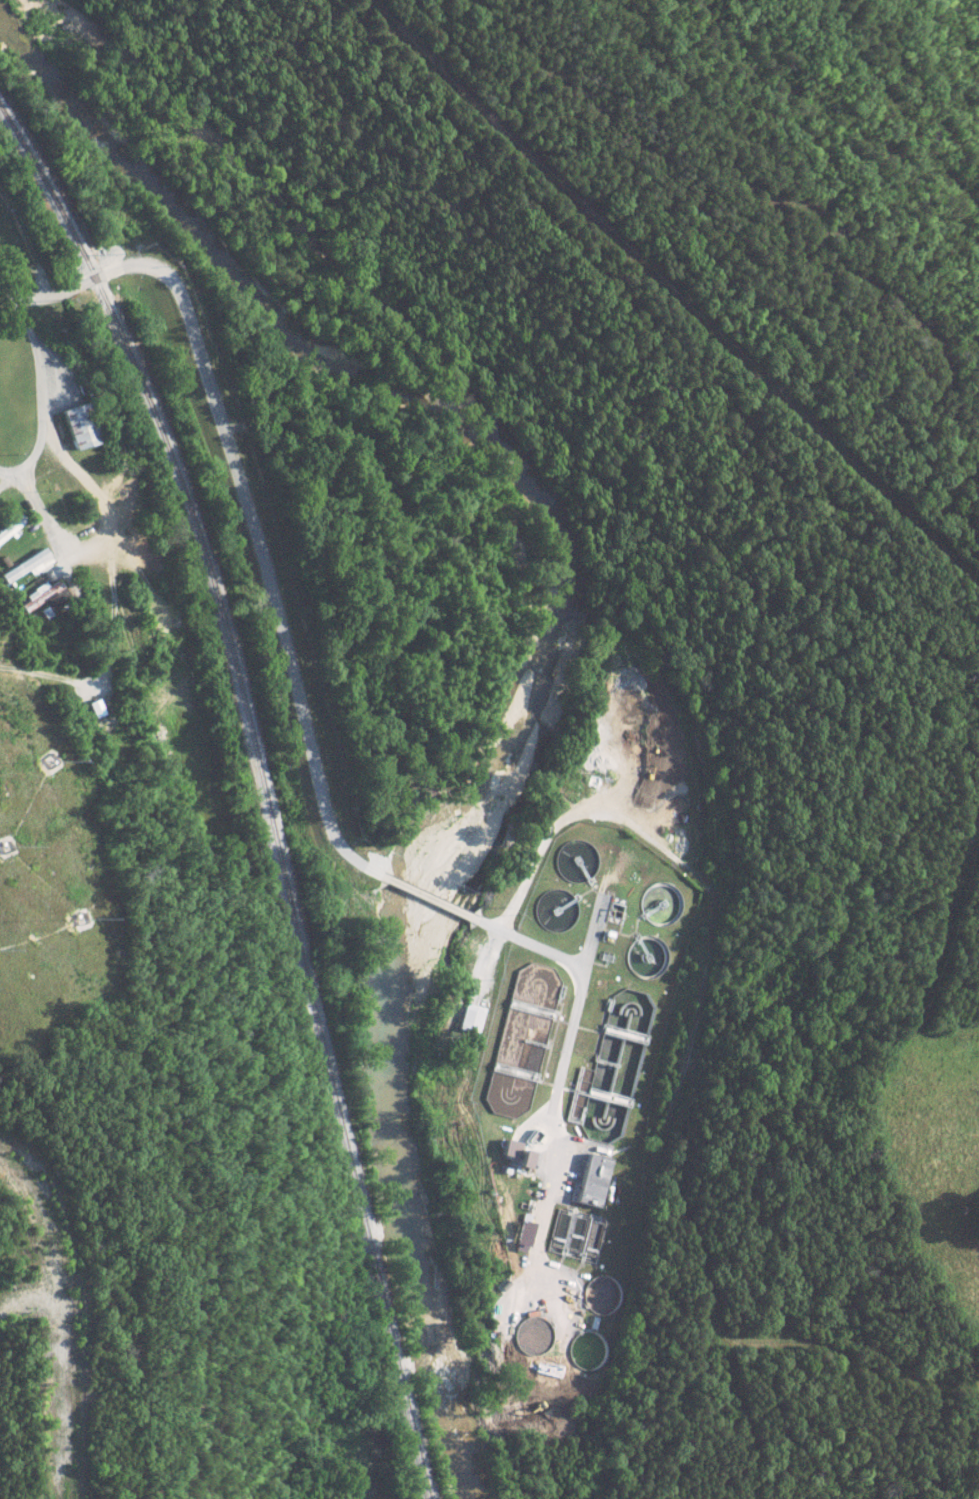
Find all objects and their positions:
river: (399, 403)
road: (41, 423)
building: (80, 425)
road: (13, 467)
building: (11, 528)
road: (261, 565)
building: (29, 566)
building: (48, 599)
railway: (260, 789)
road: (573, 997)
building: (467, 1018)
building: (513, 1154)
building: (591, 1180)
building: (519, 1237)

